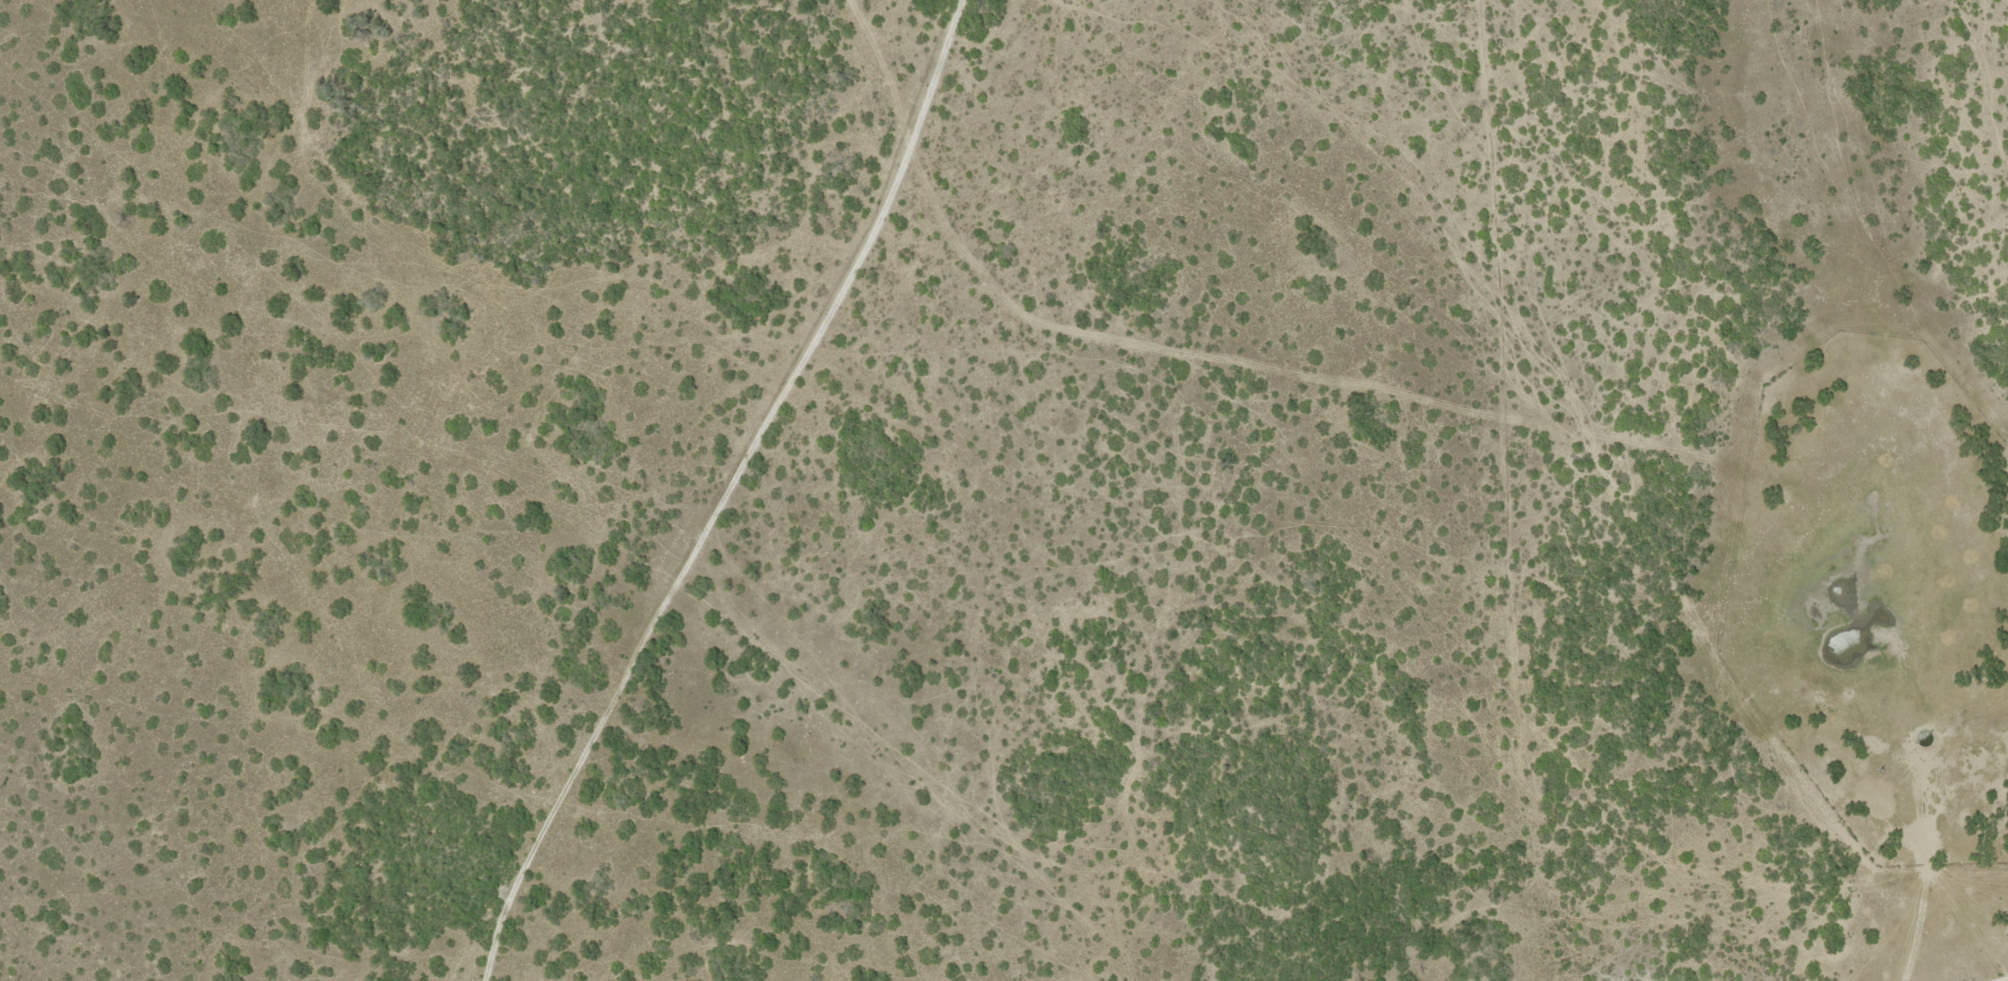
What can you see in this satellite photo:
road: (1804, 855)

